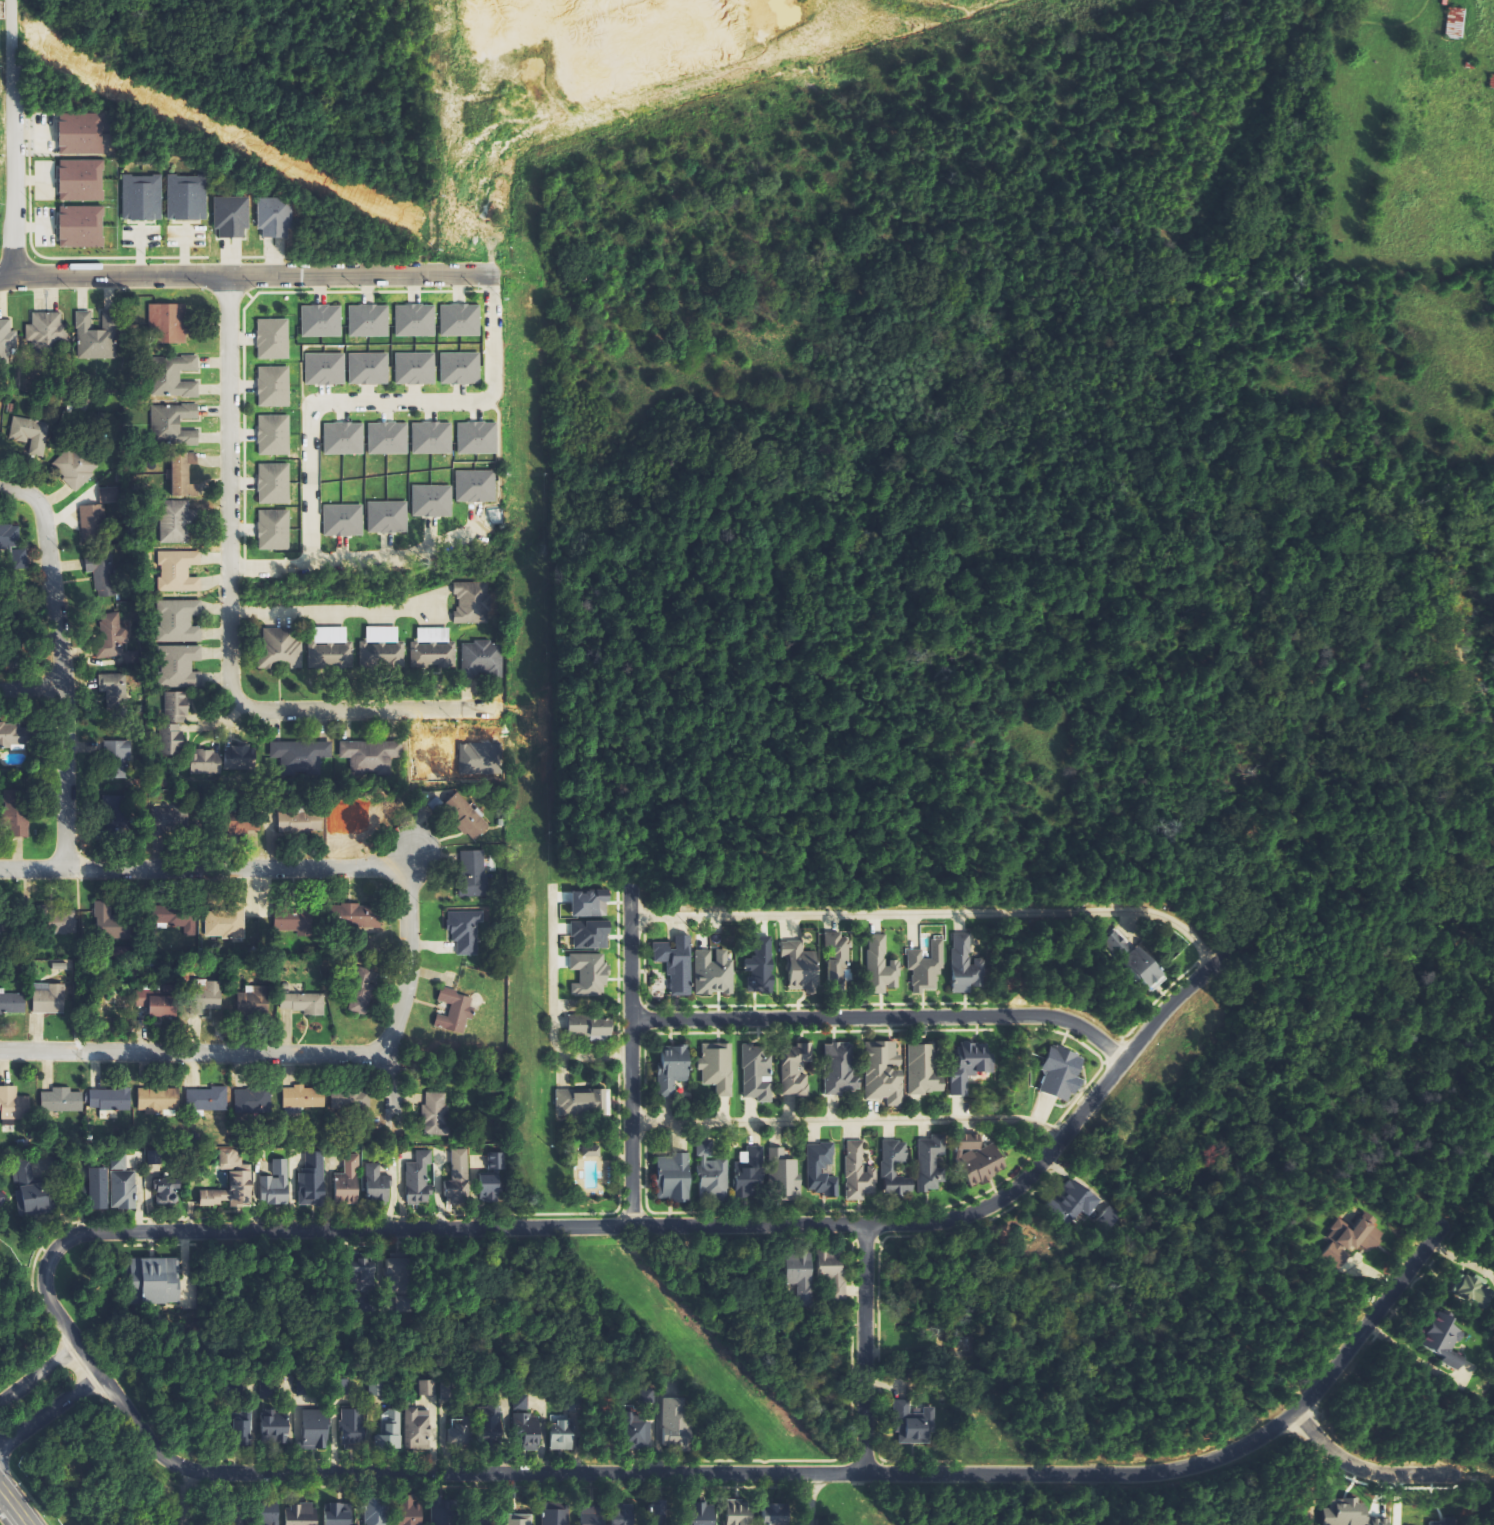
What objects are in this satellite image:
building: (1455, 23)
building: (75, 133)
road: (9, 139)
building: (75, 180)
building: (136, 198)
building: (181, 198)
building: (226, 216)
building: (269, 216)
building: (75, 226)
road: (246, 276)
building: (409, 320)
building: (454, 320)
building: (315, 321)
building: (363, 321)
building: (167, 323)
building: (41, 333)
building: (96, 336)
building: (267, 339)
building: (4, 340)
building: (363, 368)
building: (410, 368)
building: (455, 368)
building: (320, 369)
building: (175, 378)
building: (268, 386)
road: (388, 402)
building: (173, 424)
building: (25, 434)
building: (268, 435)
building: (338, 438)
building: (382, 438)
building: (426, 438)
building: (471, 438)
building: (71, 467)
building: (183, 475)
building: (268, 483)
building: (470, 486)
building: (426, 500)
building: (92, 517)
building: (382, 517)
building: (338, 520)
building: (174, 521)
building: (269, 529)
building: (7, 536)
road: (394, 556)
road: (270, 563)
building: (178, 571)
building: (97, 574)
building: (470, 603)
building: (179, 621)
road: (231, 621)
building: (332, 635)
building: (382, 635)
building: (106, 637)
building: (279, 648)
building: (431, 648)
building: (385, 655)
building: (330, 656)
building: (482, 660)
road: (58, 665)
building: (178, 665)
road: (30, 686)
building: (109, 690)
building: (174, 722)
building: (14, 735)
building: (112, 758)
building: (223, 762)
building: (15, 811)
building: (464, 813)
building: (300, 821)
road: (332, 866)
building: (474, 873)
building: (590, 901)
road: (930, 913)
building: (357, 915)
building: (175, 917)
building: (105, 920)
building: (58, 921)
building: (295, 922)
building: (228, 924)
building: (466, 927)
building: (591, 934)
building: (1117, 944)
building: (837, 957)
building: (677, 963)
building: (966, 965)
building: (760, 966)
building: (801, 966)
building: (881, 966)
building: (926, 966)
building: (1145, 968)
building: (714, 972)
building: (589, 974)
building: (362, 990)
building: (205, 995)
building: (49, 998)
building: (159, 1000)
building: (254, 1000)
building: (12, 1003)
building: (304, 1003)
building: (454, 1012)
road: (881, 1017)
building: (591, 1027)
road: (194, 1054)
road: (628, 1056)
building: (971, 1066)
building: (718, 1067)
building: (795, 1068)
building: (673, 1069)
building: (840, 1069)
building: (923, 1070)
building: (884, 1072)
building: (758, 1073)
building: (1062, 1073)
building: (303, 1097)
building: (350, 1098)
building: (62, 1099)
building: (110, 1099)
building: (207, 1099)
building: (158, 1100)
building: (251, 1100)
building: (583, 1102)
building: (13, 1104)
building: (435, 1114)
road: (845, 1120)
building: (591, 1152)
building: (979, 1160)
building: (931, 1163)
building: (896, 1169)
building: (822, 1170)
building: (857, 1172)
building: (712, 1173)
building: (749, 1173)
building: (784, 1175)
building: (674, 1177)
building: (312, 1178)
building: (459, 1178)
building: (493, 1178)
building: (419, 1179)
building: (348, 1181)
building: (232, 1182)
building: (276, 1184)
building: (377, 1184)
building: (123, 1185)
building: (98, 1188)
building: (28, 1189)
building: (166, 1193)
building: (1076, 1199)
road: (631, 1226)
building: (1351, 1240)
building: (800, 1271)
building: (833, 1271)
building: (398, 1274)
building: (156, 1278)
building: (364, 1282)
building: (1471, 1290)
building: (1445, 1341)
road: (861, 1349)
road: (38, 1372)
building: (427, 1387)
road: (50, 1412)
building: (913, 1423)
building: (526, 1424)
building: (675, 1425)
building: (478, 1427)
building: (241, 1429)
building: (275, 1429)
building: (353, 1429)
building: (418, 1429)
building: (316, 1430)
building: (390, 1430)
building: (636, 1431)
building: (562, 1434)
road: (1360, 1470)
road: (798, 1473)
road: (183, 1497)
road: (807, 1499)
road: (12, 1507)
building: (409, 1511)
building: (373, 1512)
building: (270, 1513)
building: (702, 1513)
building: (738, 1513)
building: (301, 1514)
building: (338, 1514)
building: (775, 1514)
building: (1352, 1514)
building: (591, 1515)
building: (555, 1516)
building: (623, 1517)
building: (518, 1519)

